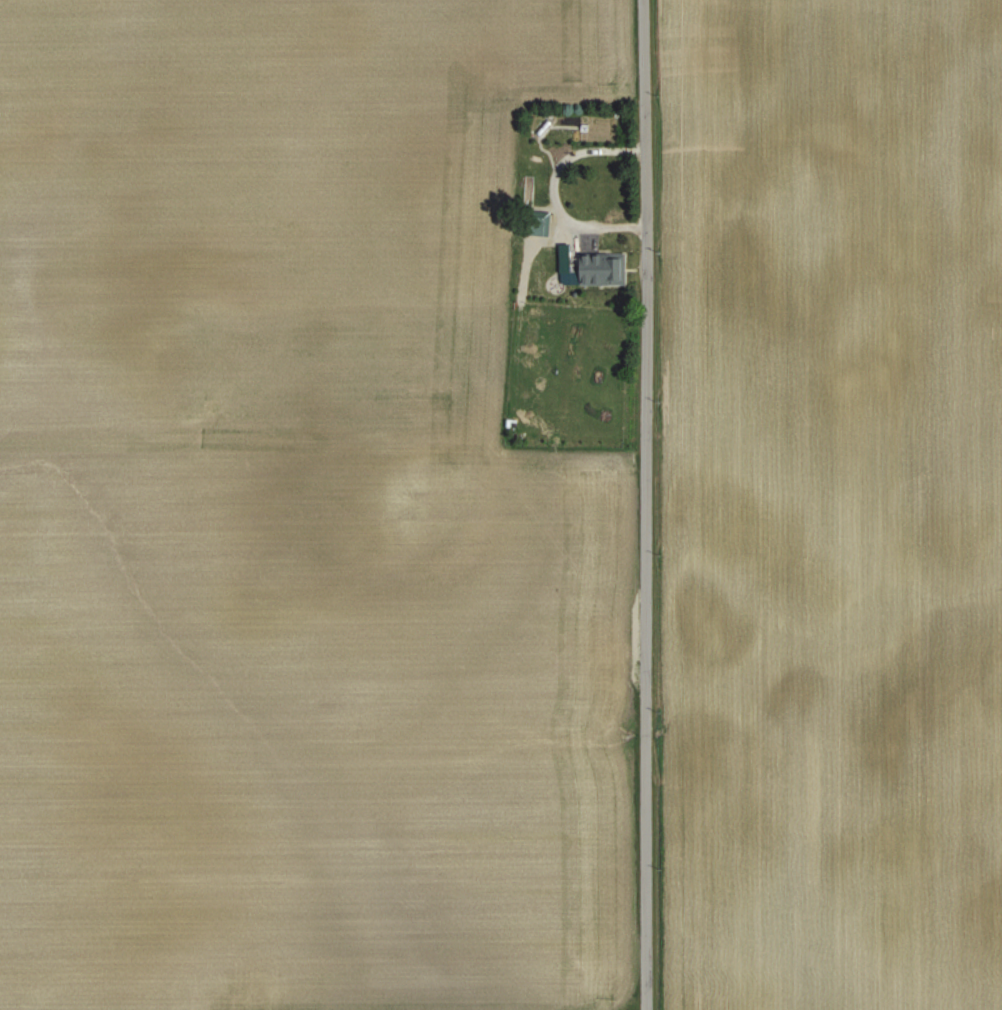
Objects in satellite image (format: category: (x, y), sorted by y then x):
building: (562, 257)
building: (599, 268)
road: (646, 504)

